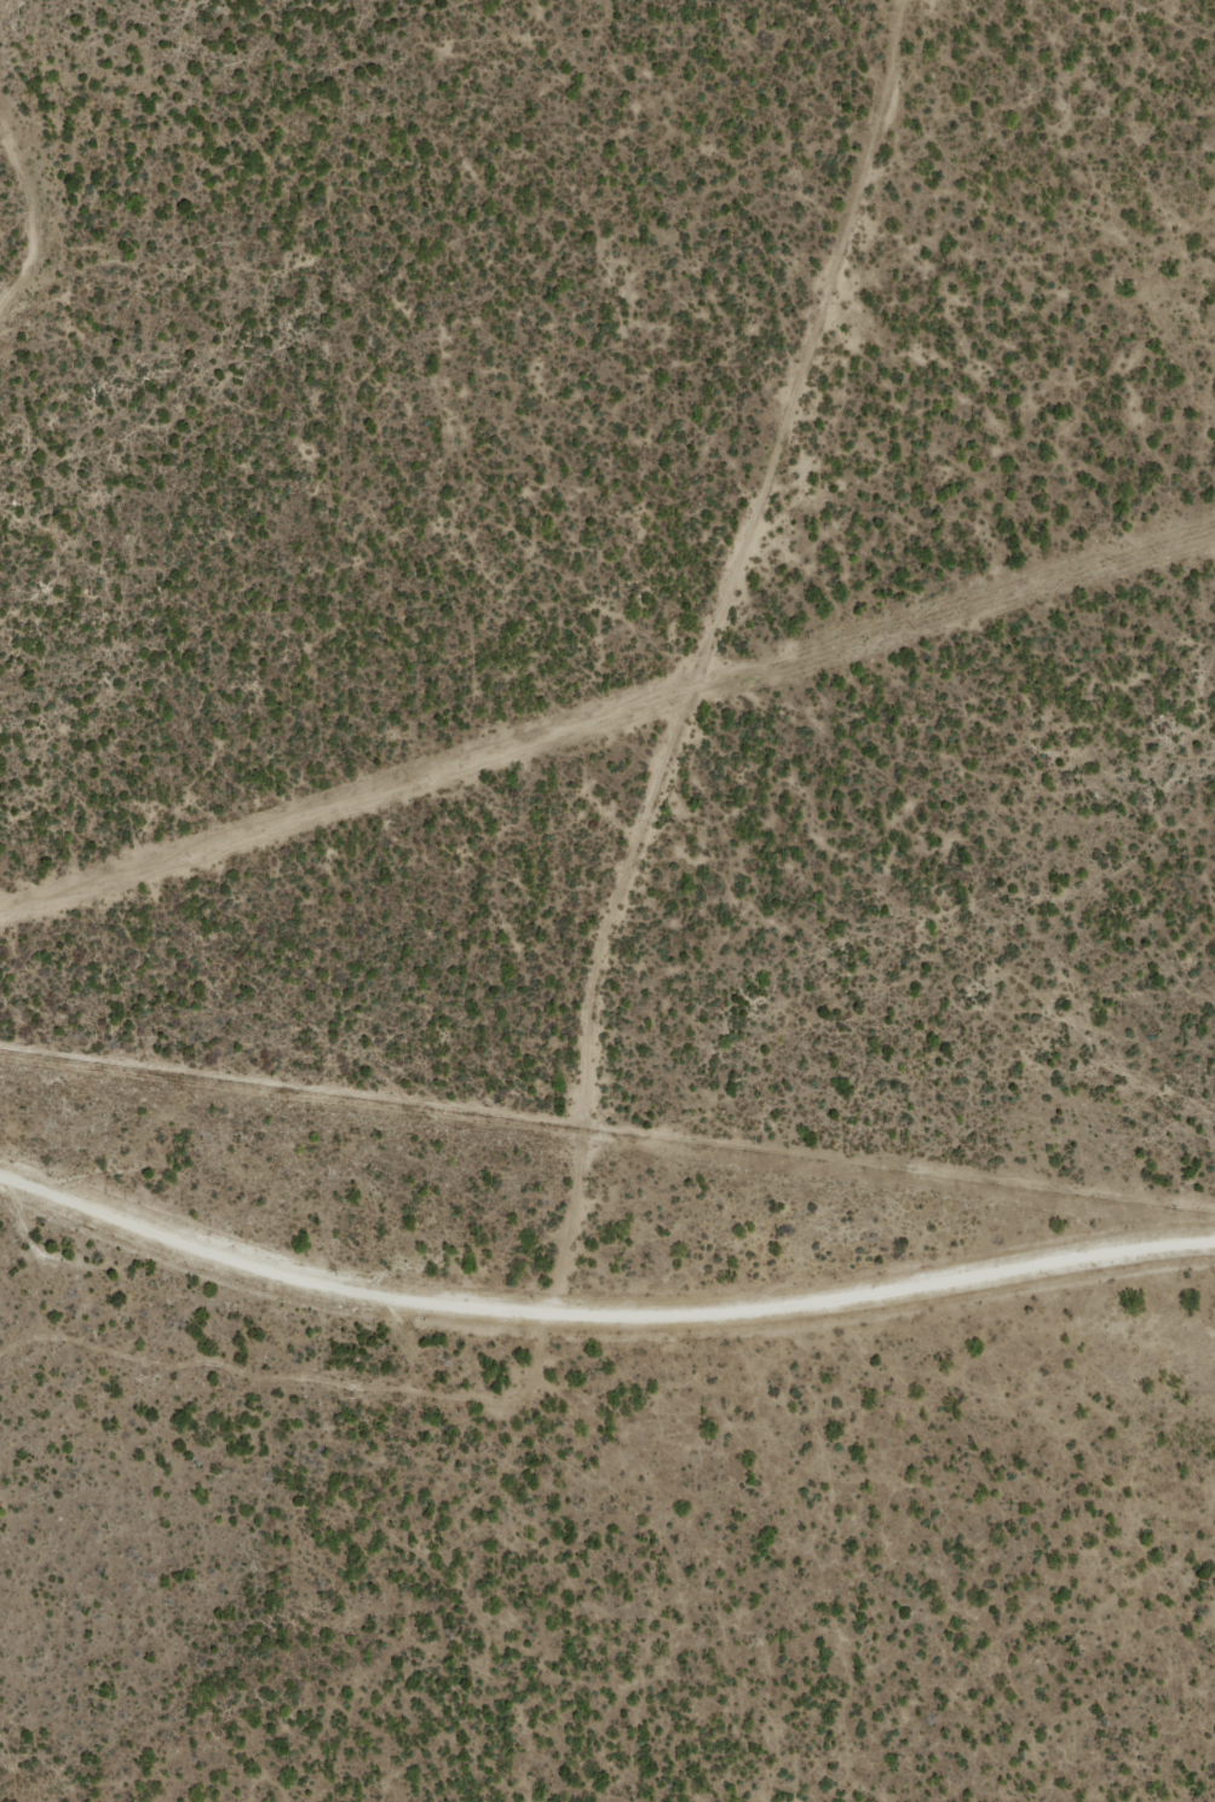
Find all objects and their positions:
road: (633, 955)

